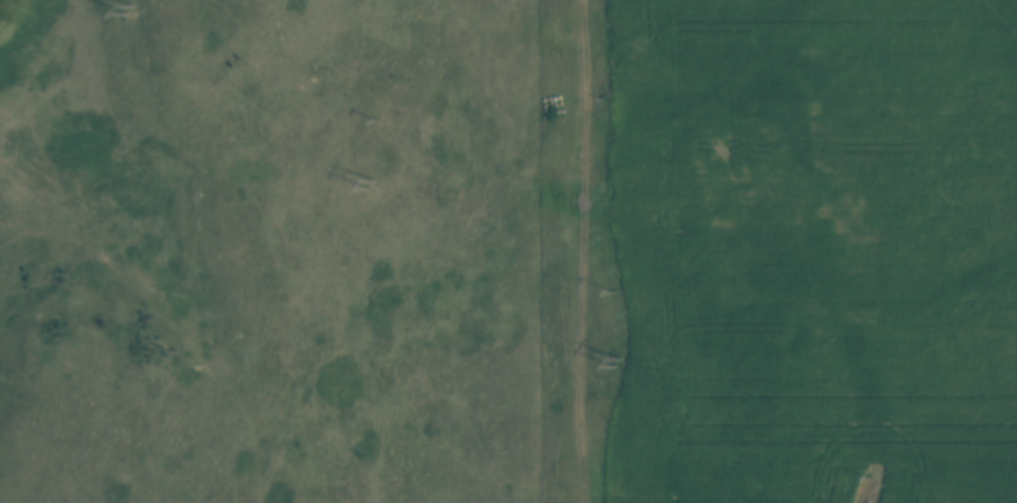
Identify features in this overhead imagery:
road: (570, 251)

